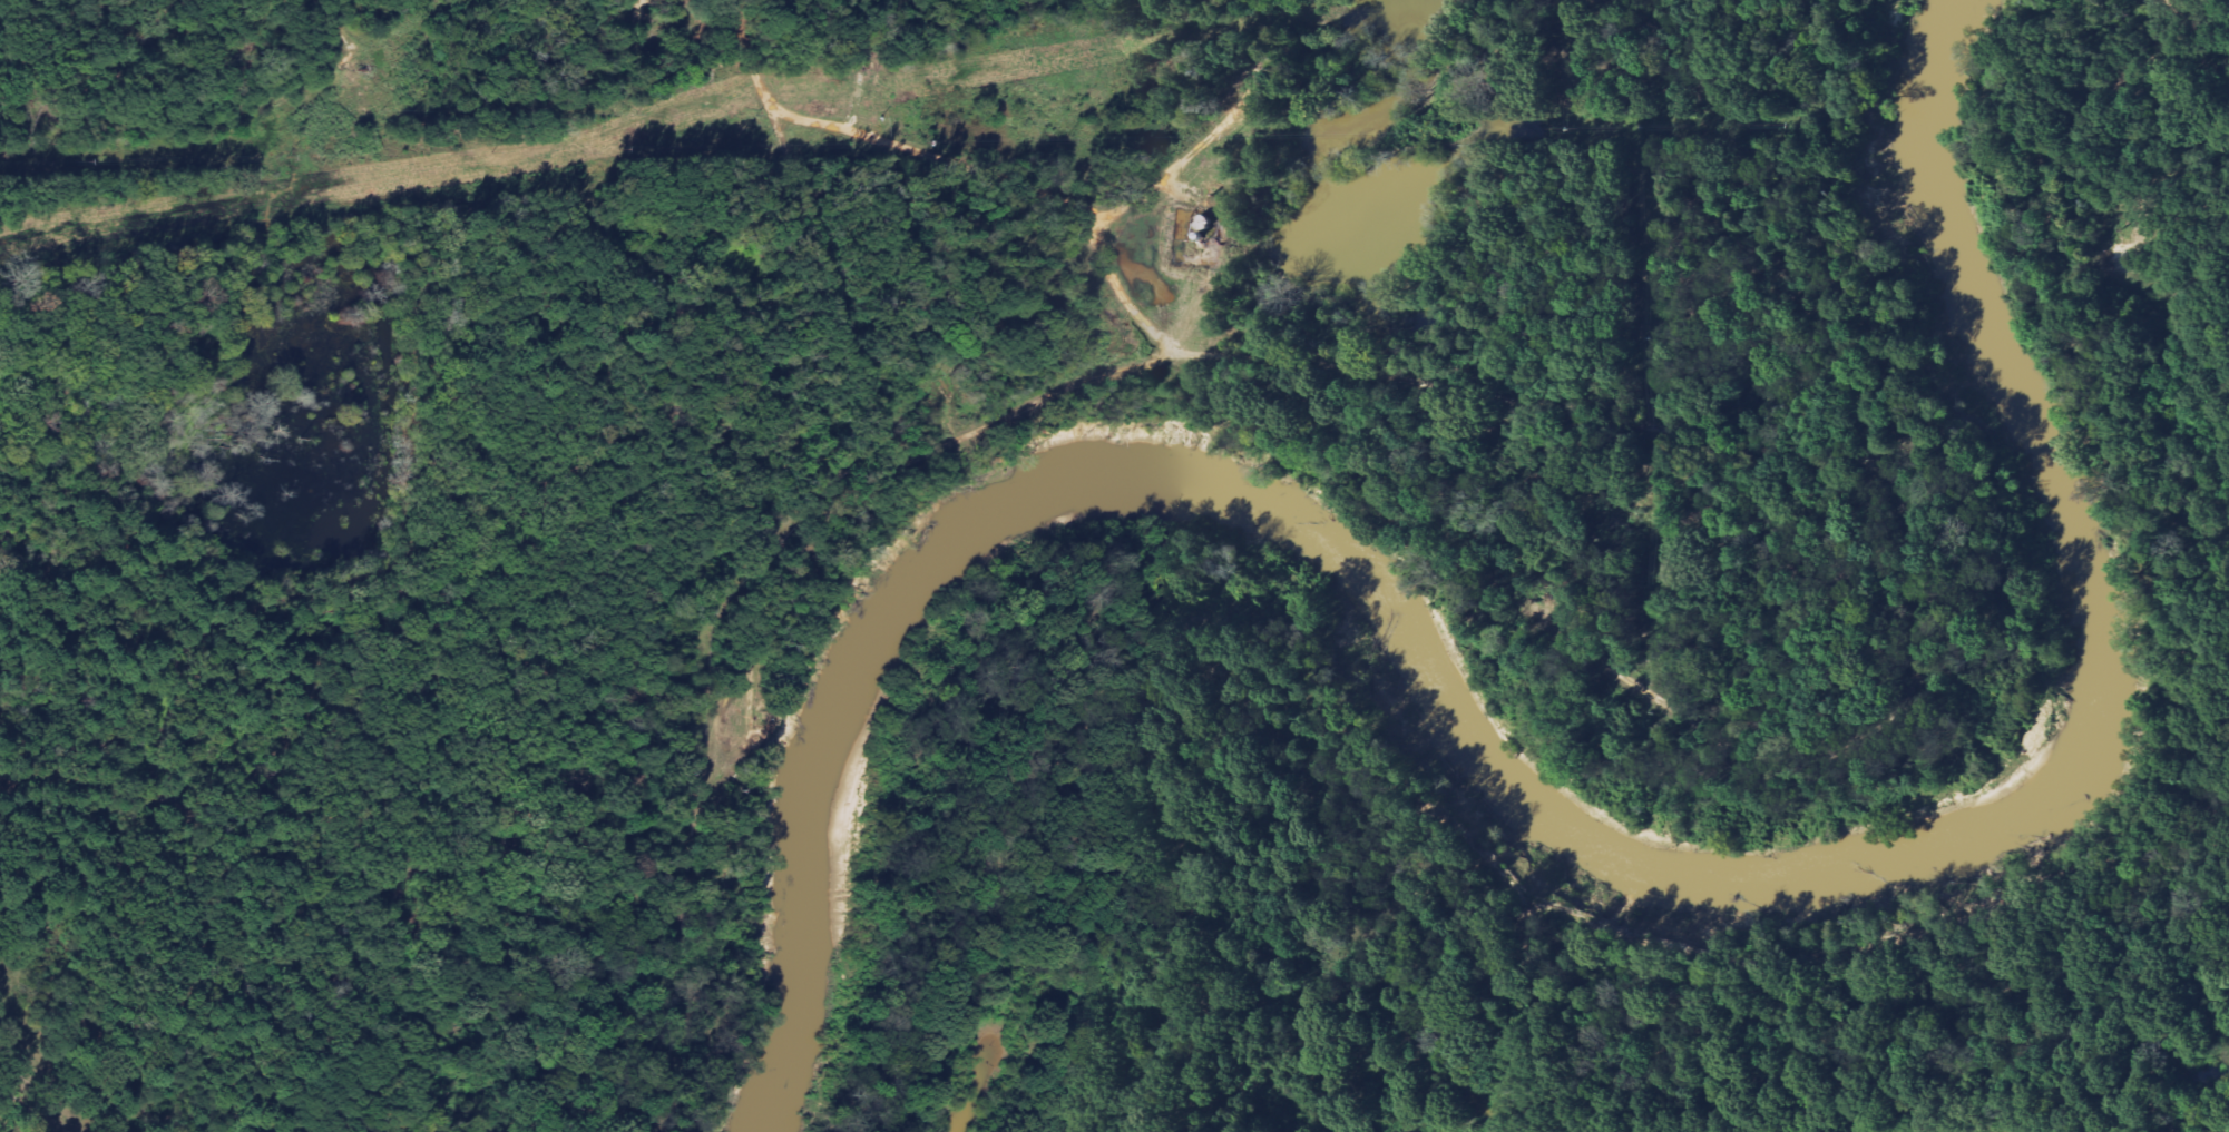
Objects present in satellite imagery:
road: (955, 166)
road: (1028, 408)
road: (1915, 548)
road: (1414, 787)
river: (1541, 807)
road: (1538, 1012)

